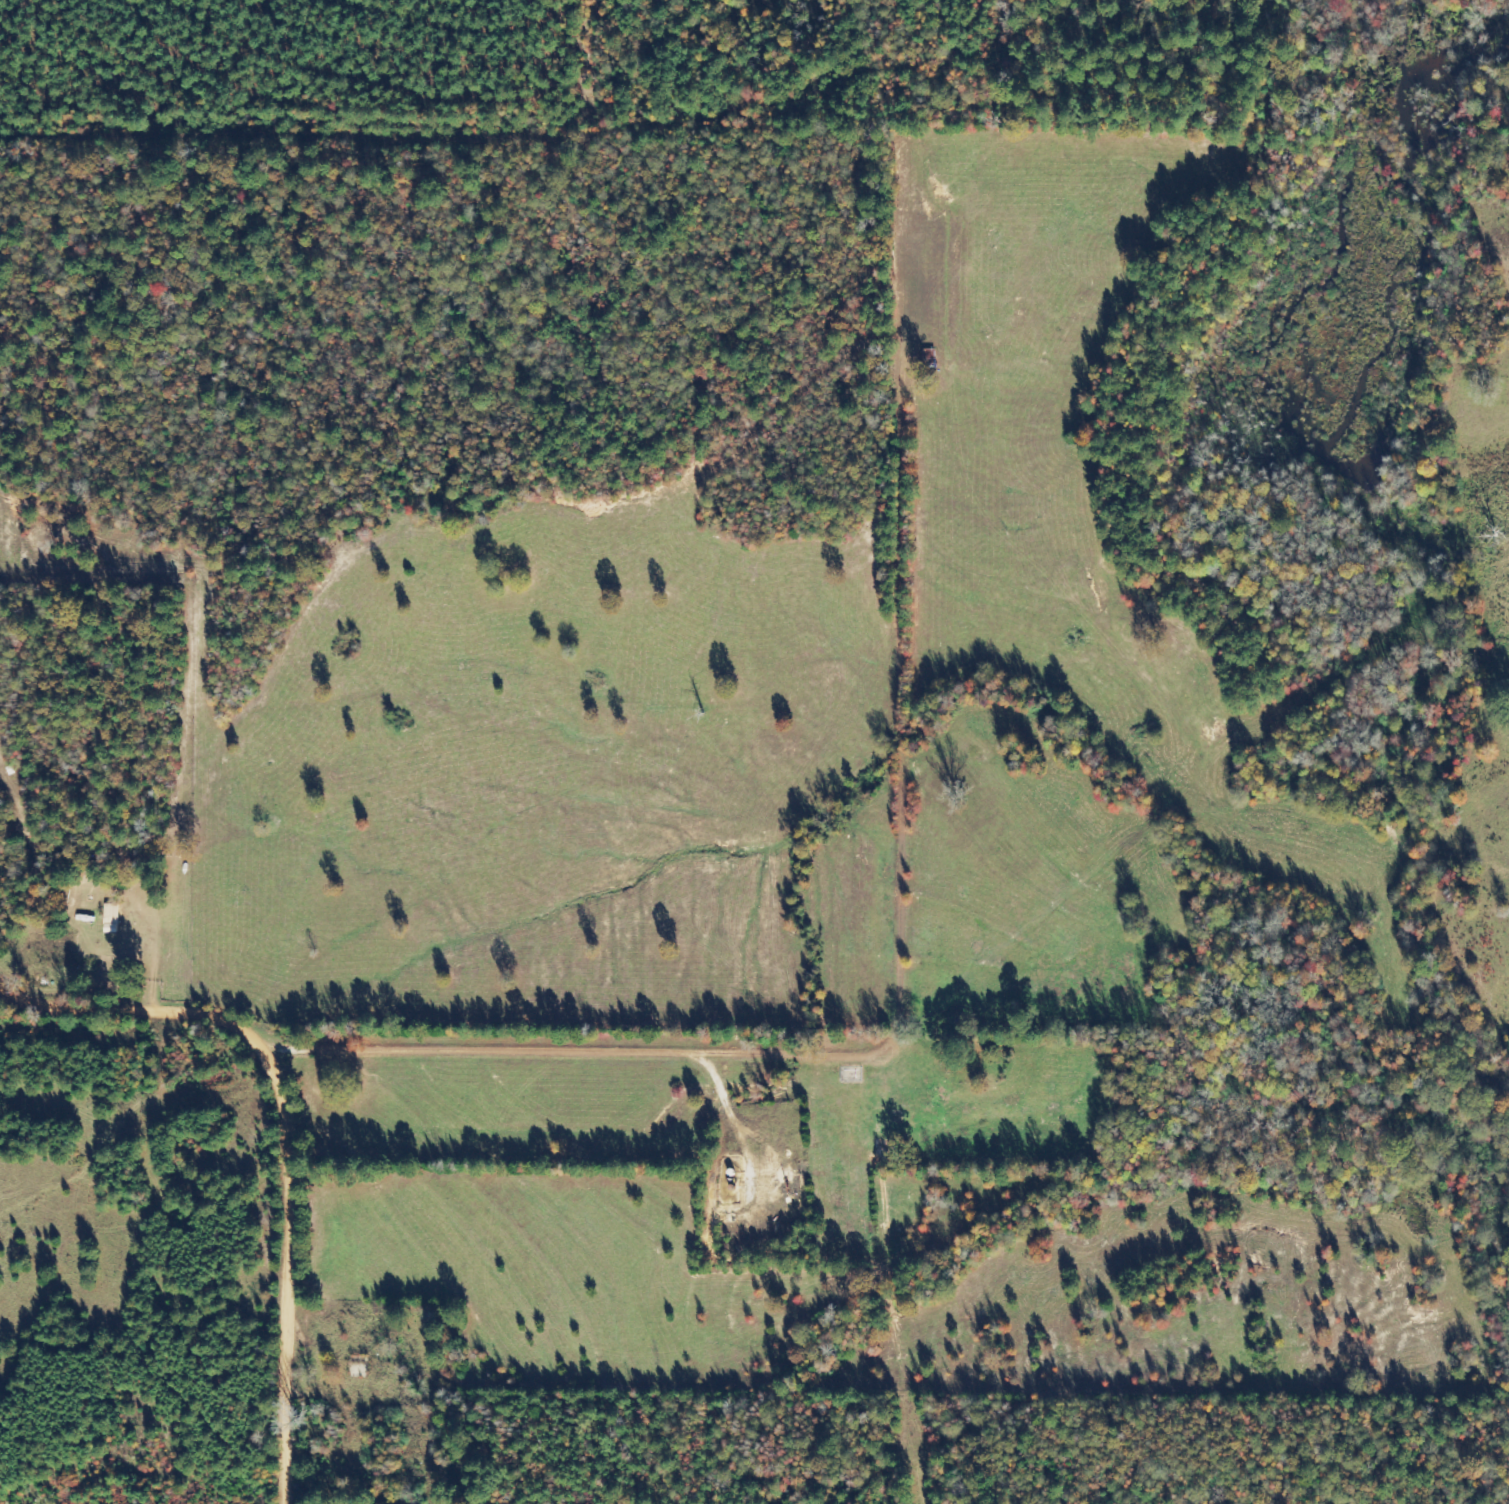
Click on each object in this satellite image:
road: (543, 1047)
road: (291, 1130)

